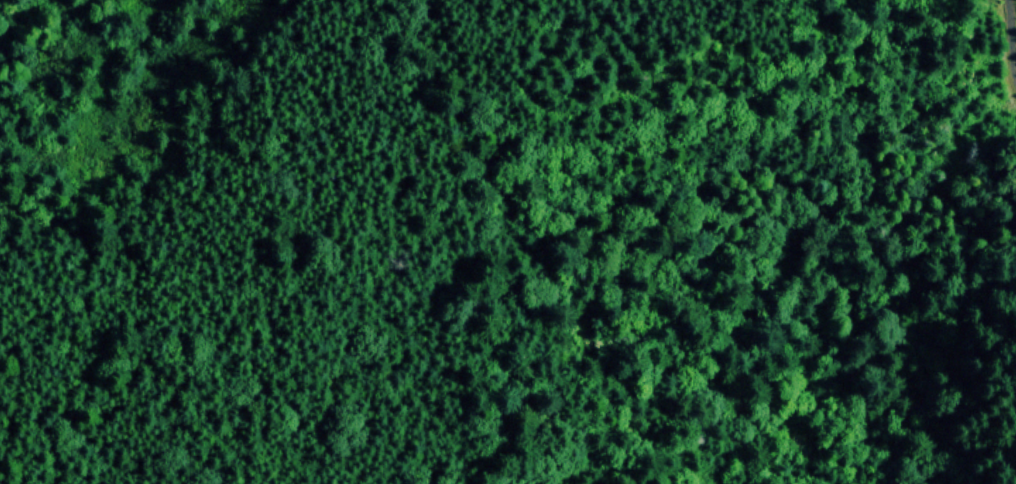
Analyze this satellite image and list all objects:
road: (999, 48)

